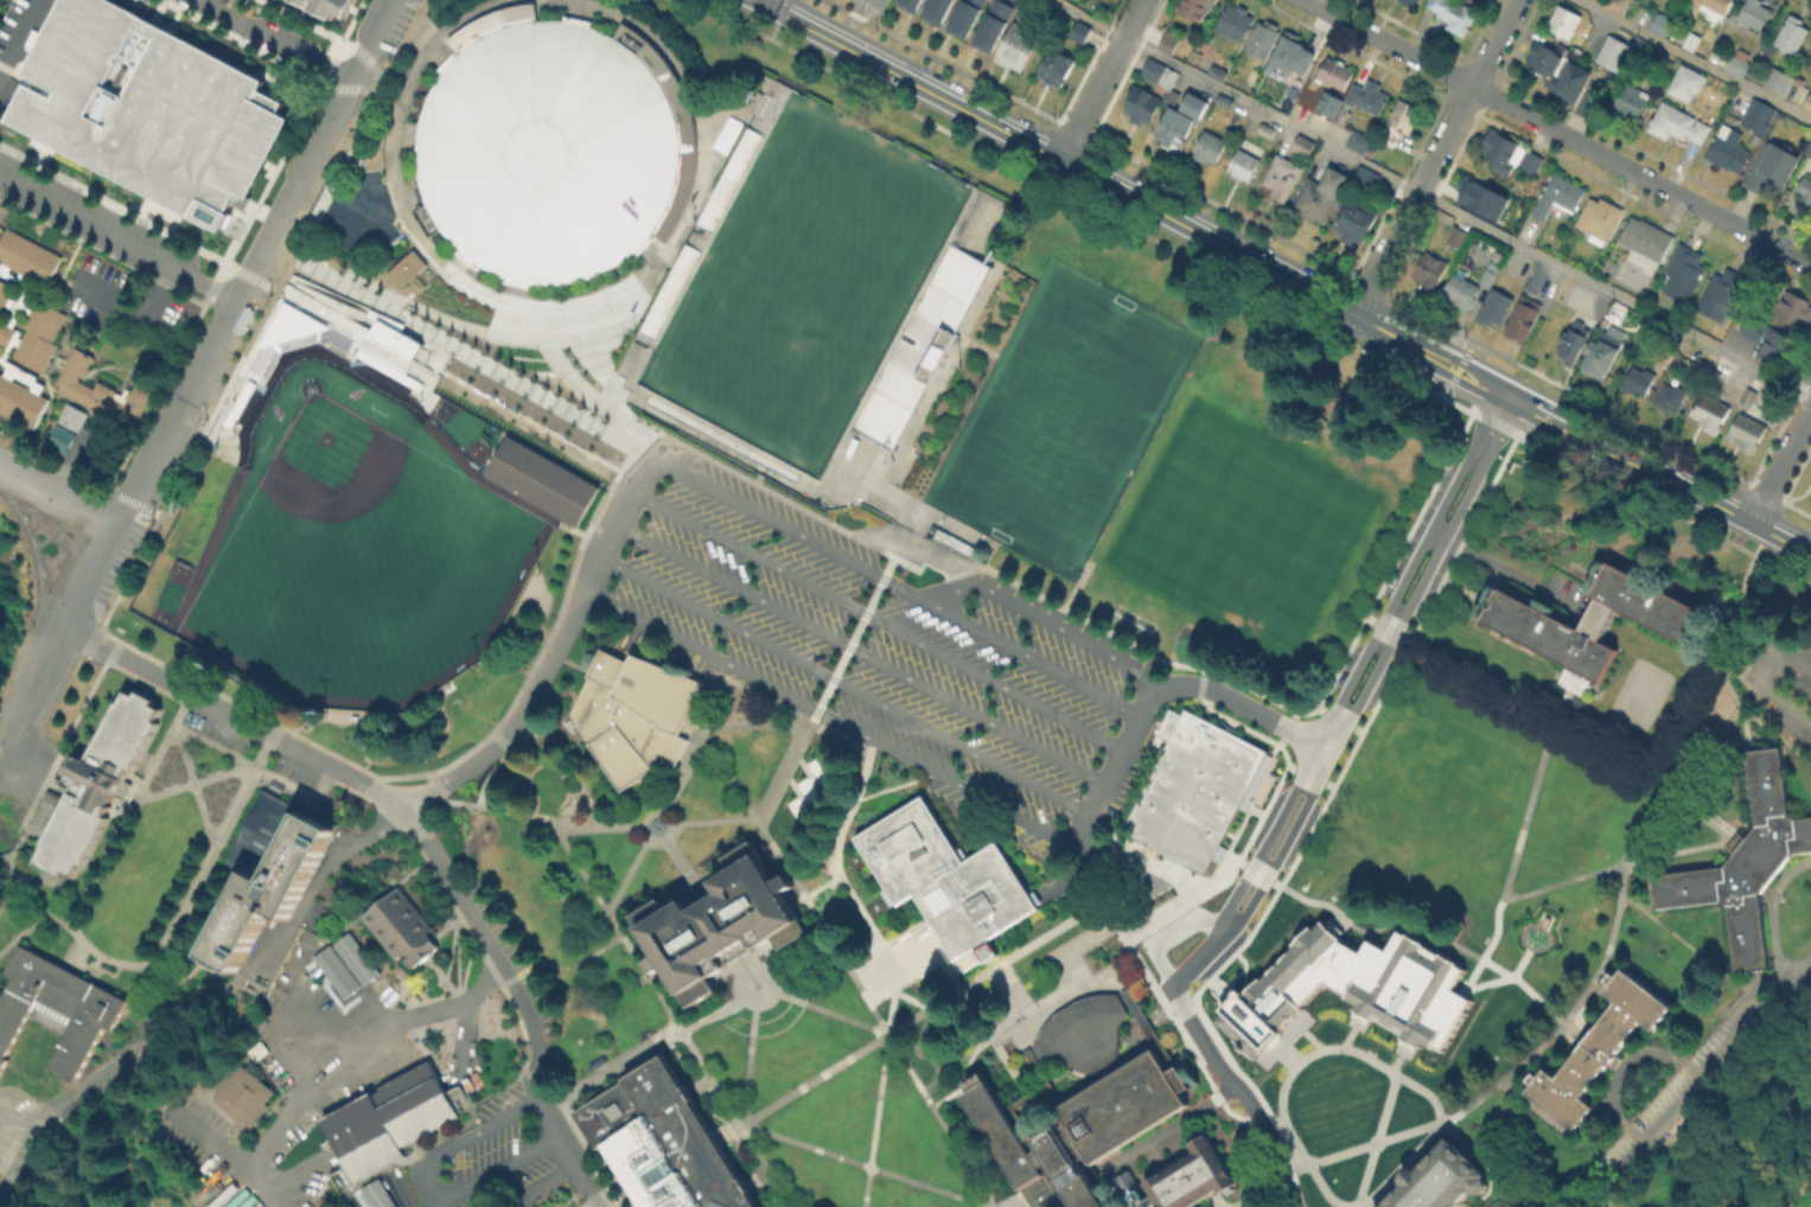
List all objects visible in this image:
building: (878, 2)
building: (913, 2)
road: (769, 4)
building: (1410, 4)
building: (330, 5)
building: (1618, 5)
building: (1194, 7)
building: (1713, 7)
building: (939, 8)
road: (238, 9)
road: (579, 12)
building: (968, 15)
building: (1453, 15)
building: (1753, 17)
building: (1233, 23)
building: (1564, 23)
building: (995, 24)
building: (1662, 26)
building: (1080, 32)
building: (1793, 36)
road: (20, 38)
building: (1262, 38)
road: (274, 39)
road: (369, 39)
building: (1173, 39)
road: (241, 41)
building: (1691, 45)
building: (1019, 47)
road: (438, 50)
building: (1621, 53)
building: (1287, 55)
road: (368, 58)
road: (1695, 59)
building: (1741, 64)
building: (1810, 65)
building: (1058, 68)
road: (376, 71)
building: (1561, 71)
building: (1159, 74)
road: (324, 75)
building: (1217, 75)
building: (1333, 76)
road: (1102, 79)
building: (1779, 83)
road: (370, 84)
building: (1686, 85)
road: (340, 87)
building: (1293, 87)
building: (1369, 98)
building: (1632, 101)
building: (1224, 103)
building: (1142, 104)
building: (1195, 104)
building: (1809, 106)
building: (153, 109)
building: (1759, 117)
building: (1176, 121)
building: (1401, 122)
building: (1679, 126)
road: (1558, 132)
building: (725, 133)
building: (1265, 133)
road: (403, 134)
road: (689, 138)
road: (352, 145)
building: (1360, 145)
building: (1303, 146)
building: (1209, 147)
building: (550, 148)
stadium: (550, 148)
building: (1807, 148)
building: (1729, 151)
road: (1435, 157)
building: (1509, 157)
building: (1243, 165)
building: (1772, 170)
road: (273, 172)
building: (1281, 178)
building: (1366, 181)
building: (1805, 191)
road: (408, 194)
building: (1321, 196)
building: (1478, 196)
road: (1430, 198)
building: (1560, 198)
road: (343, 212)
building: (1600, 221)
building: (1356, 223)
road: (116, 238)
building: (1458, 238)
building: (1645, 242)
road: (651, 249)
building: (27, 257)
building: (408, 268)
building: (1430, 274)
road: (217, 275)
road: (250, 275)
building: (1684, 275)
road: (1282, 276)
building: (1490, 279)
park: (803, 283)
road: (515, 287)
building: (1460, 292)
building: (2, 293)
building: (1724, 295)
stadium: (821, 299)
road: (234, 300)
road: (549, 306)
road: (133, 307)
building: (1494, 309)
building: (1796, 313)
building: (1525, 320)
building: (289, 325)
building: (5, 334)
building: (39, 338)
building: (1574, 341)
building: (1774, 344)
building: (365, 345)
building: (919, 345)
road: (980, 345)
building: (1605, 351)
road: (562, 352)
building: (629, 358)
building: (1701, 369)
building: (21, 377)
building: (1713, 379)
building: (1639, 383)
road: (597, 384)
road: (447, 387)
building: (103, 392)
building: (1672, 400)
building: (1749, 400)
building: (19, 402)
building: (1708, 415)
park: (1061, 416)
park: (1063, 416)
building: (68, 428)
road: (1499, 430)
building: (1746, 434)
road: (1780, 464)
road: (18, 473)
building: (542, 478)
road: (613, 479)
road: (884, 480)
road: (761, 481)
road: (78, 502)
road: (612, 519)
park: (355, 524)
road: (799, 534)
road: (1762, 537)
road: (1504, 569)
road: (876, 619)
road: (1046, 621)
building: (1594, 626)
road: (57, 639)
parking lot: (881, 650)
road: (860, 651)
road: (1729, 651)
road: (109, 656)
road: (1358, 657)
road: (1040, 662)
road: (572, 663)
road: (830, 679)
road: (842, 684)
road: (1767, 686)
road: (703, 690)
road: (1358, 697)
road: (1246, 705)
building: (635, 711)
road: (827, 717)
road: (1575, 726)
road: (703, 728)
road: (1774, 733)
road: (1767, 736)
road: (307, 739)
road: (695, 742)
road: (267, 743)
road: (62, 746)
road: (684, 754)
road: (240, 756)
road: (1117, 764)
road: (490, 773)
building: (96, 780)
road: (191, 781)
road: (183, 785)
road: (342, 785)
road: (891, 785)
building: (1198, 786)
road: (672, 792)
road: (1531, 792)
road: (444, 799)
road: (310, 803)
road: (712, 819)
road: (555, 823)
road: (643, 824)
building: (263, 832)
road: (837, 835)
road: (422, 836)
building: (1736, 844)
road: (1299, 845)
road: (1226, 848)
road: (1678, 849)
road: (1154, 855)
road: (1627, 857)
road: (1239, 861)
building: (1748, 862)
road: (323, 863)
road: (682, 864)
road: (1079, 869)
road: (1256, 871)
road: (404, 874)
road: (626, 874)
road: (40, 876)
building: (945, 876)
road: (1270, 880)
road: (791, 887)
building: (268, 889)
road: (1082, 895)
road: (39, 899)
road: (1309, 900)
road: (1773, 913)
road: (1339, 919)
building: (721, 920)
road: (449, 922)
building: (401, 925)
road: (1538, 925)
road: (1172, 927)
road: (23, 930)
road: (1131, 930)
road: (1088, 937)
road: (84, 943)
road: (314, 944)
road: (898, 946)
road: (1696, 949)
road: (594, 950)
road: (185, 956)
building: (352, 957)
road: (78, 958)
road: (553, 965)
road: (102, 967)
road: (435, 967)
road: (498, 969)
road: (525, 969)
building: (333, 970)
road: (458, 972)
road: (747, 972)
road: (164, 975)
road: (657, 975)
road: (1001, 975)
road: (174, 976)
road: (1504, 977)
road: (1592, 979)
road: (234, 981)
building: (1357, 983)
road: (1219, 984)
road: (172, 986)
road: (757, 986)
road: (1524, 986)
road: (455, 991)
road: (766, 991)
road: (755, 998)
road: (275, 1004)
building: (56, 1005)
road: (446, 1005)
road: (874, 1010)
road: (671, 1017)
road: (910, 1018)
road: (968, 1021)
road: (140, 1023)
road: (324, 1027)
road: (1353, 1028)
road: (1180, 1029)
building: (1084, 1032)
road: (1152, 1032)
road: (269, 1043)
road: (403, 1043)
road: (461, 1043)
road: (1178, 1047)
road: (1345, 1047)
building: (1595, 1047)
road: (1029, 1048)
road: (1286, 1050)
building: (1126, 1052)
road: (1401, 1053)
road: (1218, 1059)
road: (1622, 1064)
road: (882, 1065)
road: (608, 1066)
road: (964, 1069)
road: (447, 1072)
road: (529, 1074)
road: (446, 1083)
road: (700, 1084)
road: (965, 1085)
road: (1045, 1085)
road: (1691, 1085)
road: (496, 1090)
building: (241, 1094)
road: (295, 1098)
road: (1494, 1111)
building: (388, 1119)
road: (1167, 1123)
building: (1088, 1125)
road: (31, 1128)
road: (731, 1130)
road: (1433, 1132)
road: (720, 1136)
road: (1373, 1137)
road: (209, 1139)
building: (665, 1142)
road: (812, 1145)
road: (1357, 1147)
road: (757, 1175)
road: (1810, 1176)
building: (1193, 1177)
road: (1810, 1179)
road: (540, 1180)
building: (1449, 1180)
road: (431, 1182)
park: (1797, 1187)
road: (1254, 1193)
building: (375, 1194)
road: (436, 1198)
road: (1015, 1200)
road: (1220, 1203)
road: (1359, 1205)
building: (547, 1206)

